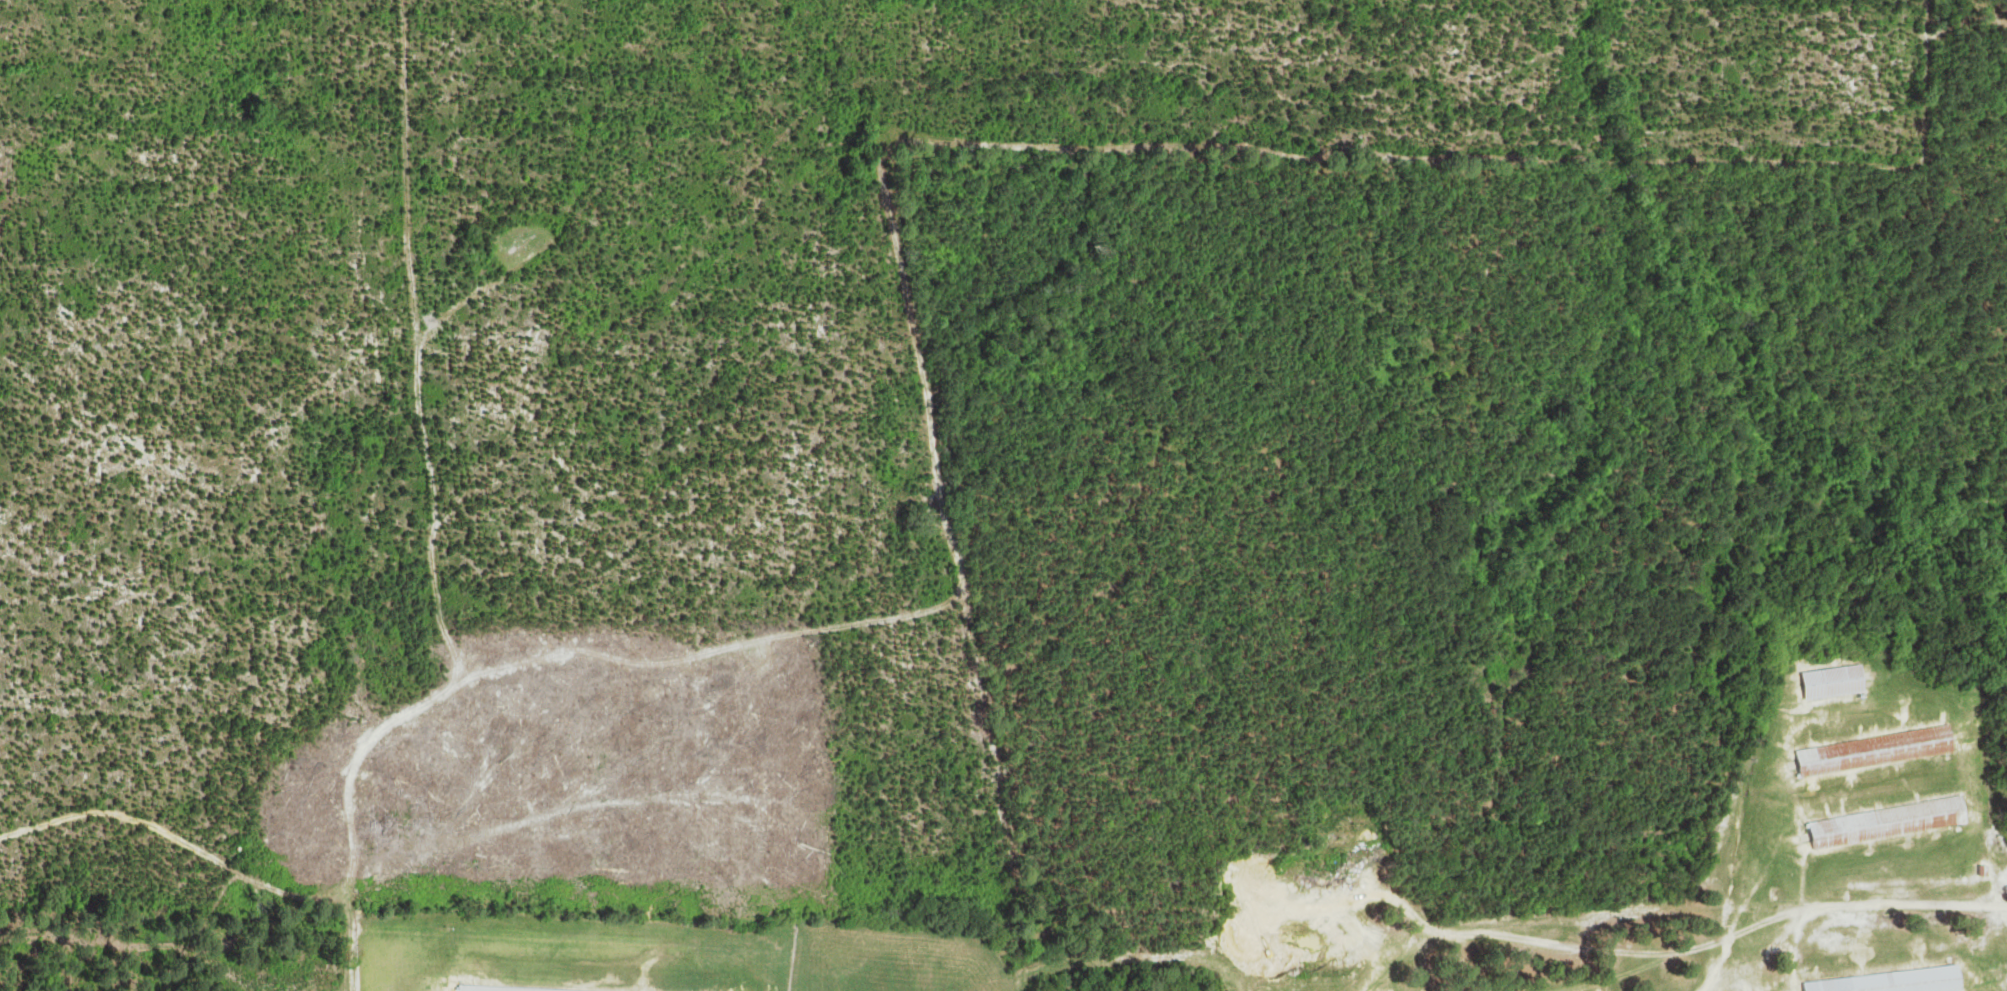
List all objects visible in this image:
building: (1868, 749)
building: (1882, 821)
building: (1883, 981)
building: (489, 987)

